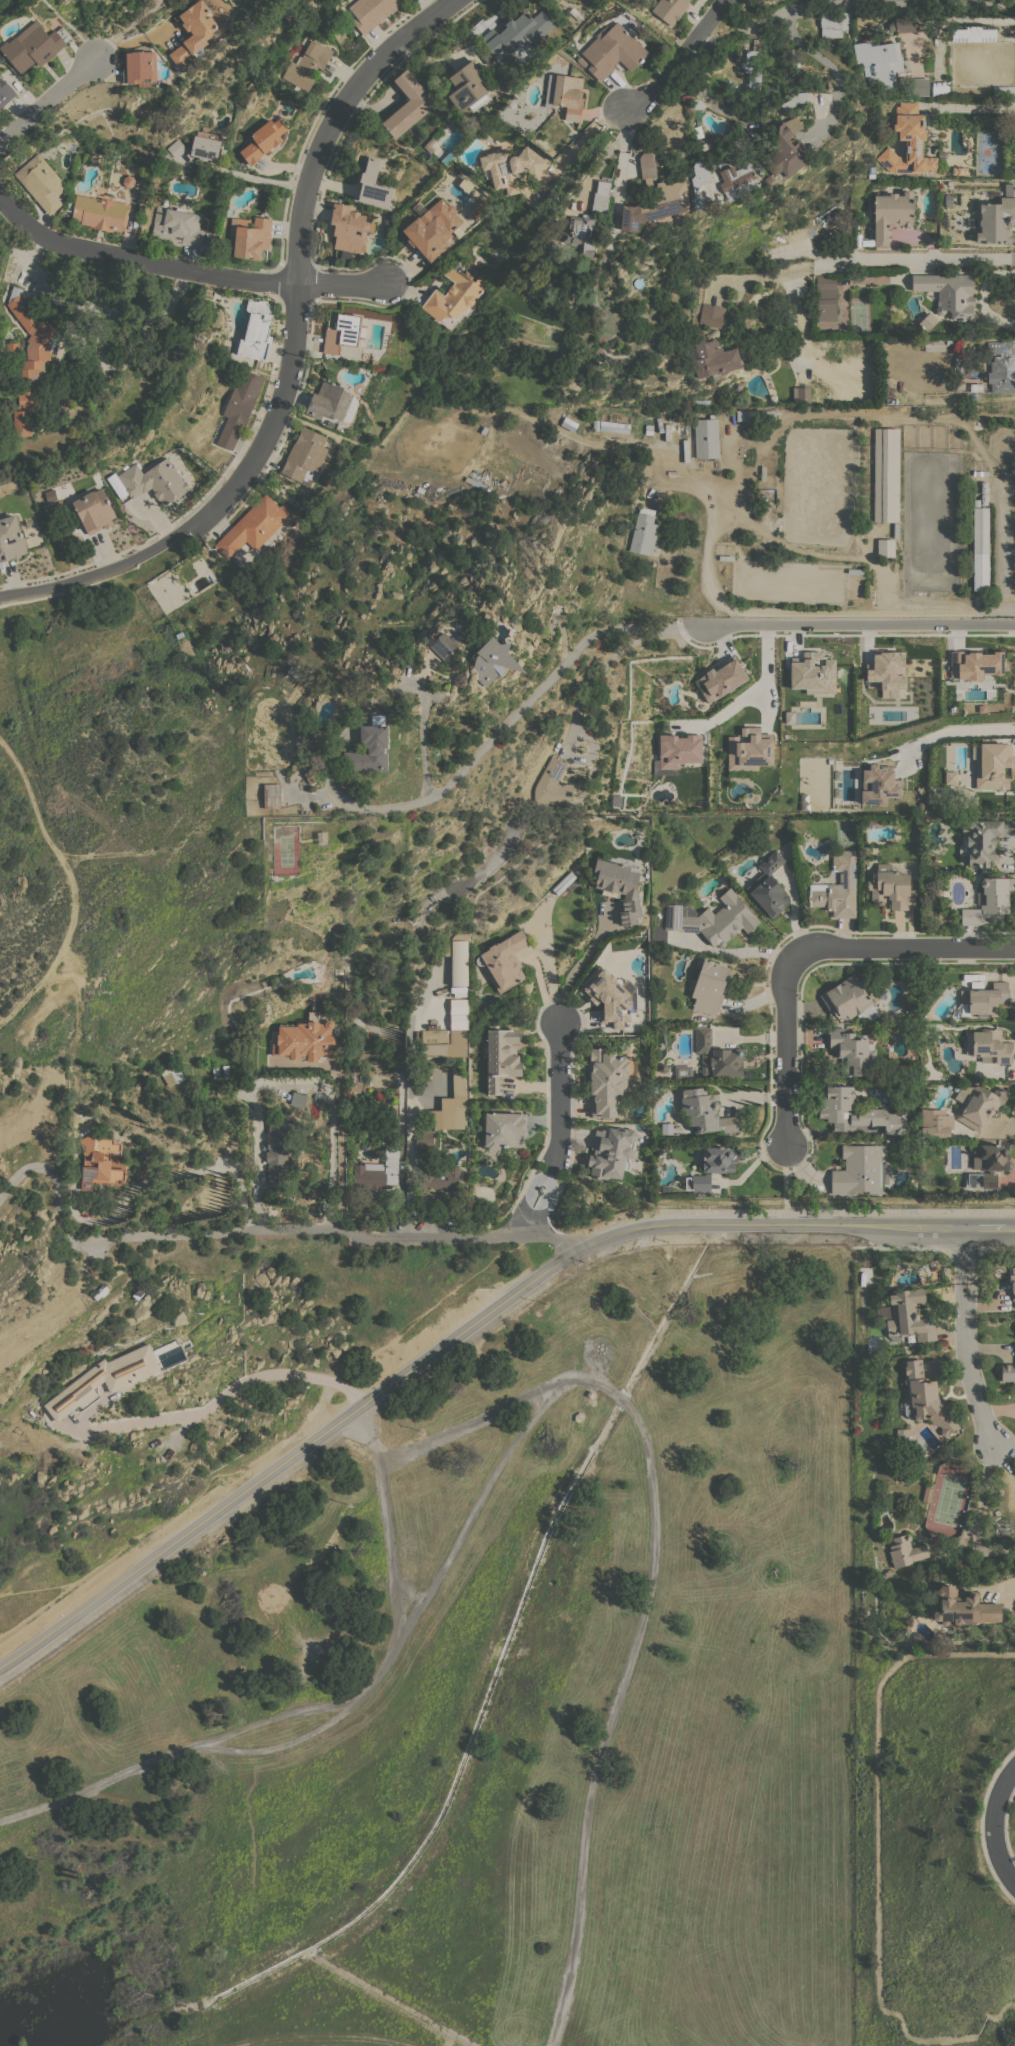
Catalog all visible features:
building: (670, 9)
building: (371, 12)
building: (834, 23)
building: (905, 24)
road: (126, 29)
building: (194, 31)
building: (518, 33)
building: (973, 33)
road: (797, 41)
building: (34, 45)
building: (612, 50)
building: (485, 56)
road: (679, 60)
building: (581, 61)
building: (878, 61)
building: (307, 64)
building: (752, 66)
building: (140, 68)
building: (917, 85)
building: (468, 88)
building: (940, 88)
building: (1004, 90)
building: (5, 92)
building: (565, 94)
road: (703, 94)
road: (46, 98)
building: (794, 100)
building: (697, 103)
building: (406, 105)
road: (967, 106)
building: (698, 131)
building: (433, 139)
building: (262, 140)
building: (908, 142)
building: (205, 145)
building: (176, 148)
building: (787, 148)
building: (450, 155)
road: (622, 161)
building: (647, 165)
building: (510, 167)
building: (959, 170)
building: (700, 174)
building: (768, 178)
building: (128, 180)
building: (737, 181)
building: (41, 182)
building: (373, 185)
building: (667, 198)
building: (599, 201)
building: (480, 208)
building: (99, 212)
building: (891, 214)
building: (634, 215)
building: (997, 217)
building: (177, 225)
building: (431, 228)
building: (348, 229)
building: (579, 232)
building: (250, 236)
road: (916, 258)
road: (186, 269)
building: (949, 293)
building: (454, 294)
building: (826, 298)
building: (109, 307)
building: (809, 312)
building: (710, 315)
building: (927, 320)
building: (256, 330)
building: (344, 332)
building: (937, 344)
building: (11, 349)
road: (293, 353)
building: (713, 357)
building: (29, 358)
building: (1002, 366)
building: (955, 386)
building: (976, 386)
building: (801, 393)
building: (332, 402)
building: (239, 407)
building: (754, 415)
building: (673, 416)
building: (594, 422)
building: (569, 423)
building: (614, 426)
building: (648, 429)
building: (706, 437)
building: (304, 455)
building: (886, 475)
building: (149, 481)
building: (475, 482)
building: (984, 486)
building: (984, 498)
building: (976, 502)
building: (94, 510)
building: (253, 526)
building: (895, 529)
building: (644, 532)
building: (10, 538)
road: (708, 544)
building: (885, 547)
building: (980, 548)
road: (853, 622)
building: (441, 643)
road: (608, 659)
building: (493, 661)
building: (974, 664)
building: (886, 672)
building: (811, 673)
building: (720, 679)
road: (761, 682)
road: (508, 719)
road: (954, 731)
building: (369, 748)
building: (748, 749)
building: (675, 752)
building: (992, 766)
building: (311, 775)
building: (949, 777)
building: (553, 782)
building: (876, 785)
building: (272, 795)
building: (872, 823)
building: (322, 837)
building: (982, 839)
building: (788, 844)
building: (769, 885)
building: (619, 886)
building: (839, 887)
building: (890, 887)
building: (989, 900)
building: (422, 906)
building: (708, 920)
road: (901, 946)
building: (643, 950)
building: (457, 958)
building: (504, 961)
road: (576, 966)
building: (276, 981)
building: (710, 986)
building: (610, 996)
building: (849, 999)
building: (984, 1001)
building: (451, 1033)
building: (307, 1039)
building: (989, 1045)
road: (786, 1049)
building: (851, 1050)
building: (501, 1056)
building: (717, 1056)
building: (663, 1067)
building: (215, 1071)
building: (225, 1071)
building: (683, 1072)
building: (171, 1075)
building: (608, 1080)
road: (560, 1084)
road: (325, 1086)
building: (355, 1086)
building: (318, 1096)
building: (298, 1099)
building: (979, 1104)
building: (835, 1108)
building: (705, 1111)
building: (446, 1112)
building: (935, 1123)
building: (505, 1130)
building: (278, 1151)
building: (612, 1151)
road: (257, 1156)
building: (718, 1159)
building: (100, 1161)
building: (987, 1165)
building: (378, 1170)
building: (860, 1170)
road: (785, 1176)
building: (438, 1177)
building: (701, 1182)
road: (529, 1191)
road: (546, 1194)
road: (824, 1210)
road: (792, 1223)
road: (143, 1236)
road: (464, 1237)
road: (945, 1248)
building: (92, 1268)
building: (945, 1269)
building: (1012, 1282)
building: (910, 1316)
road: (966, 1339)
building: (1008, 1371)
building: (104, 1379)
road: (220, 1395)
building: (589, 1395)
building: (925, 1398)
building: (19, 1431)
building: (902, 1433)
road: (287, 1458)
building: (926, 1493)
road: (475, 1508)
park: (72, 1513)
road: (978, 1513)
building: (905, 1550)
building: (888, 1571)
road: (288, 1578)
road: (1013, 1590)
road: (646, 1592)
building: (963, 1607)
building: (928, 1644)
road: (278, 1717)
road: (326, 1722)
road: (992, 1825)
road: (878, 1827)
road: (991, 2017)
road: (309, 2041)

